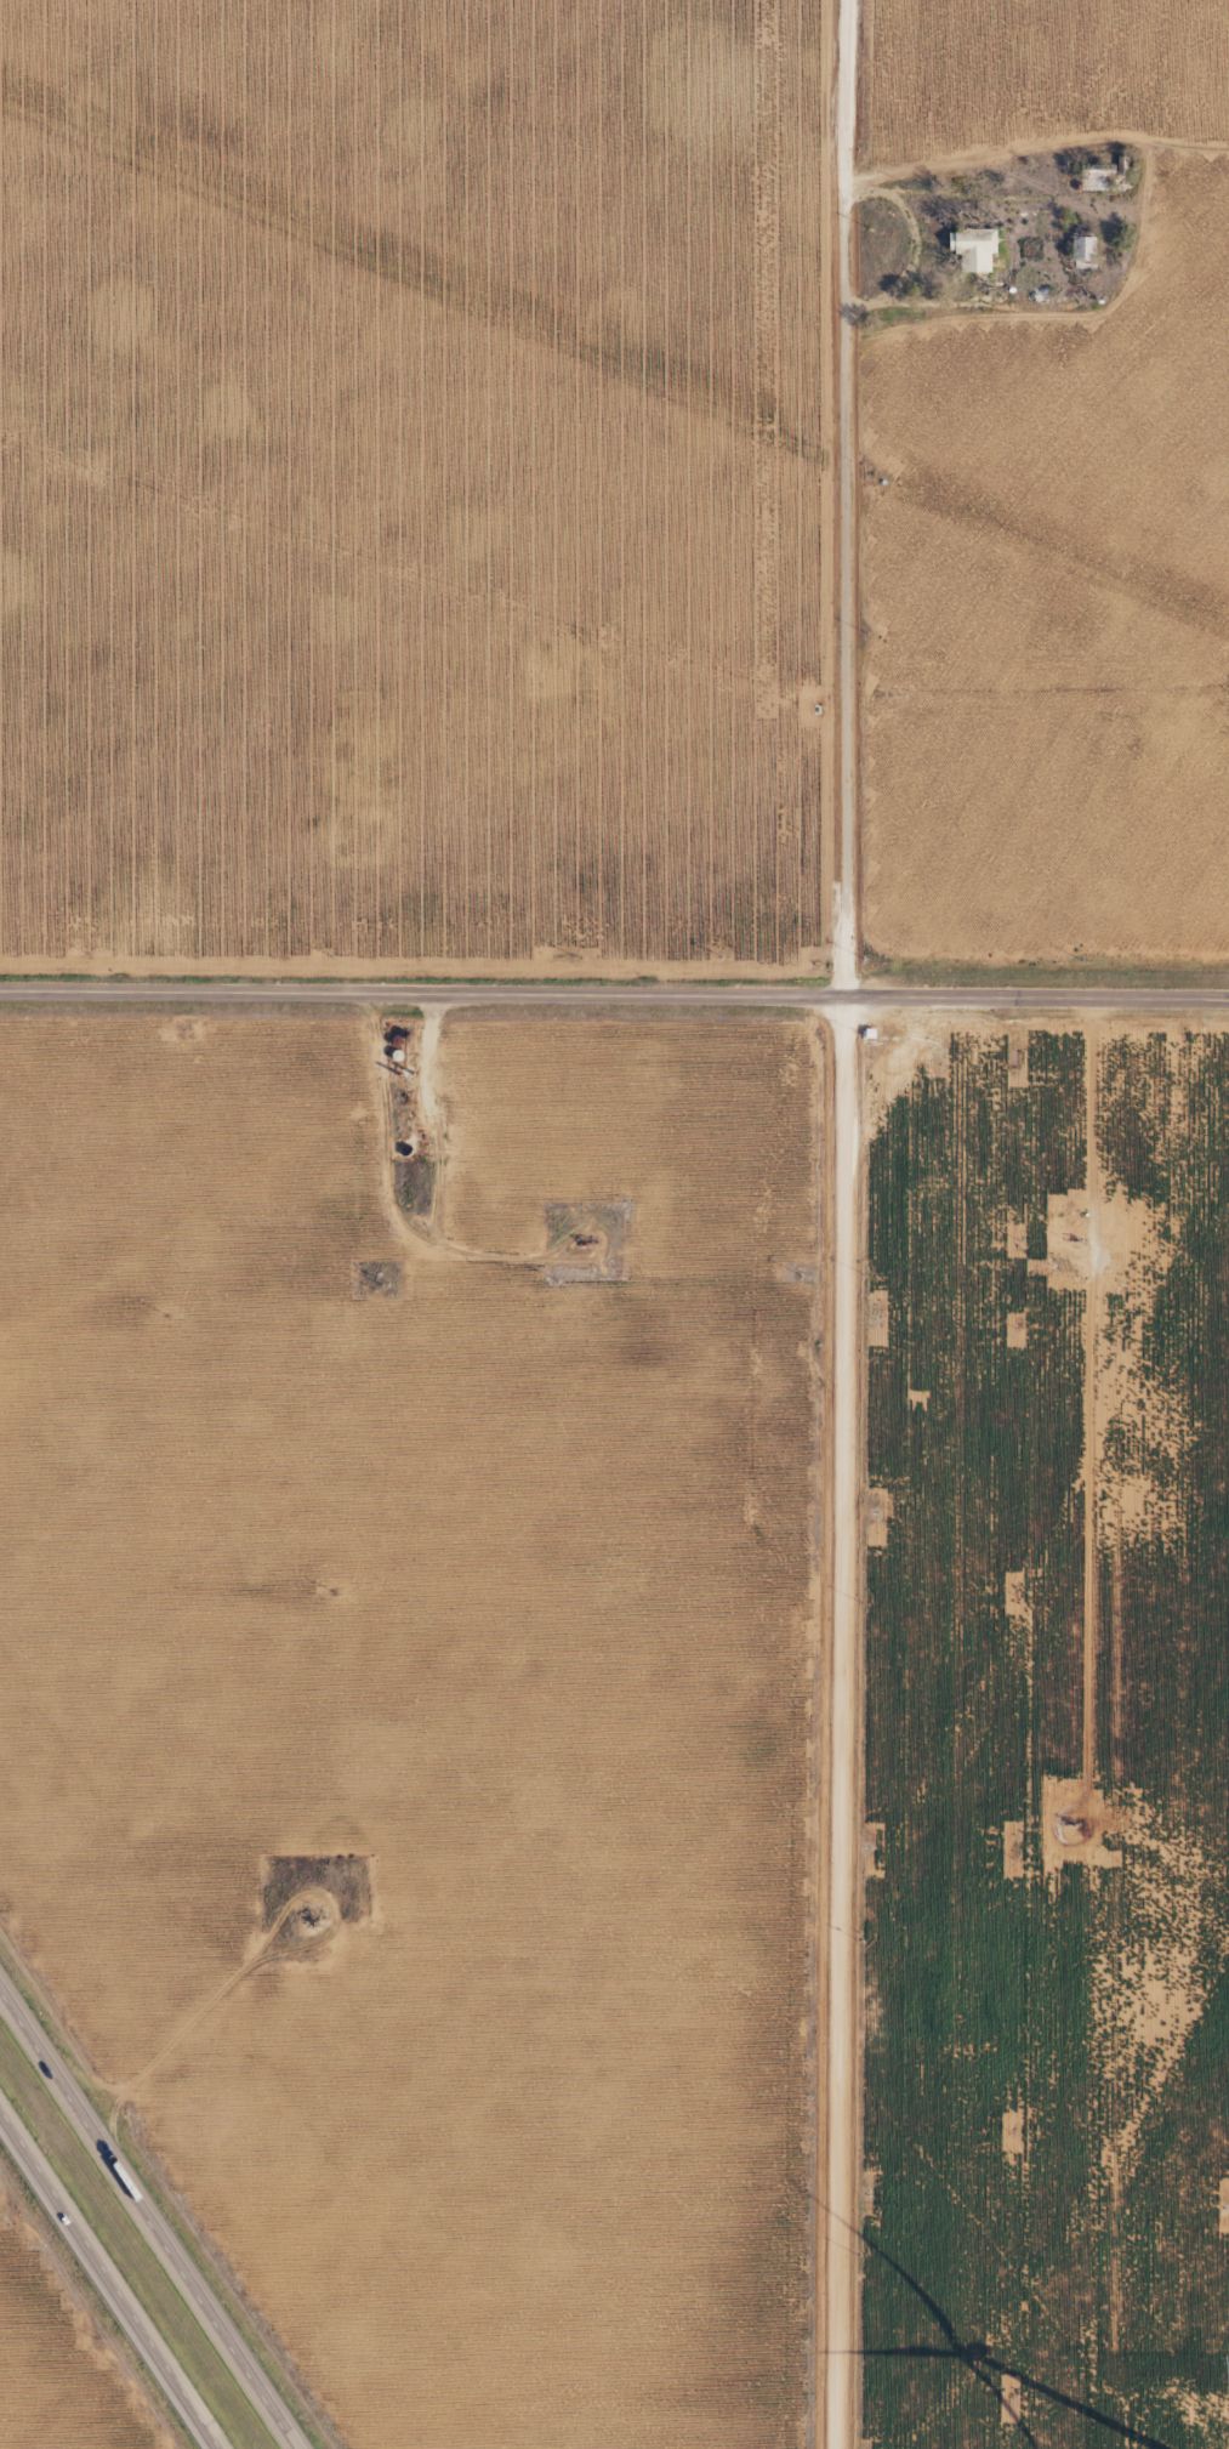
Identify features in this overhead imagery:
building: (1081, 250)
road: (614, 994)
road: (848, 1223)
road: (143, 2227)
road: (107, 2283)

